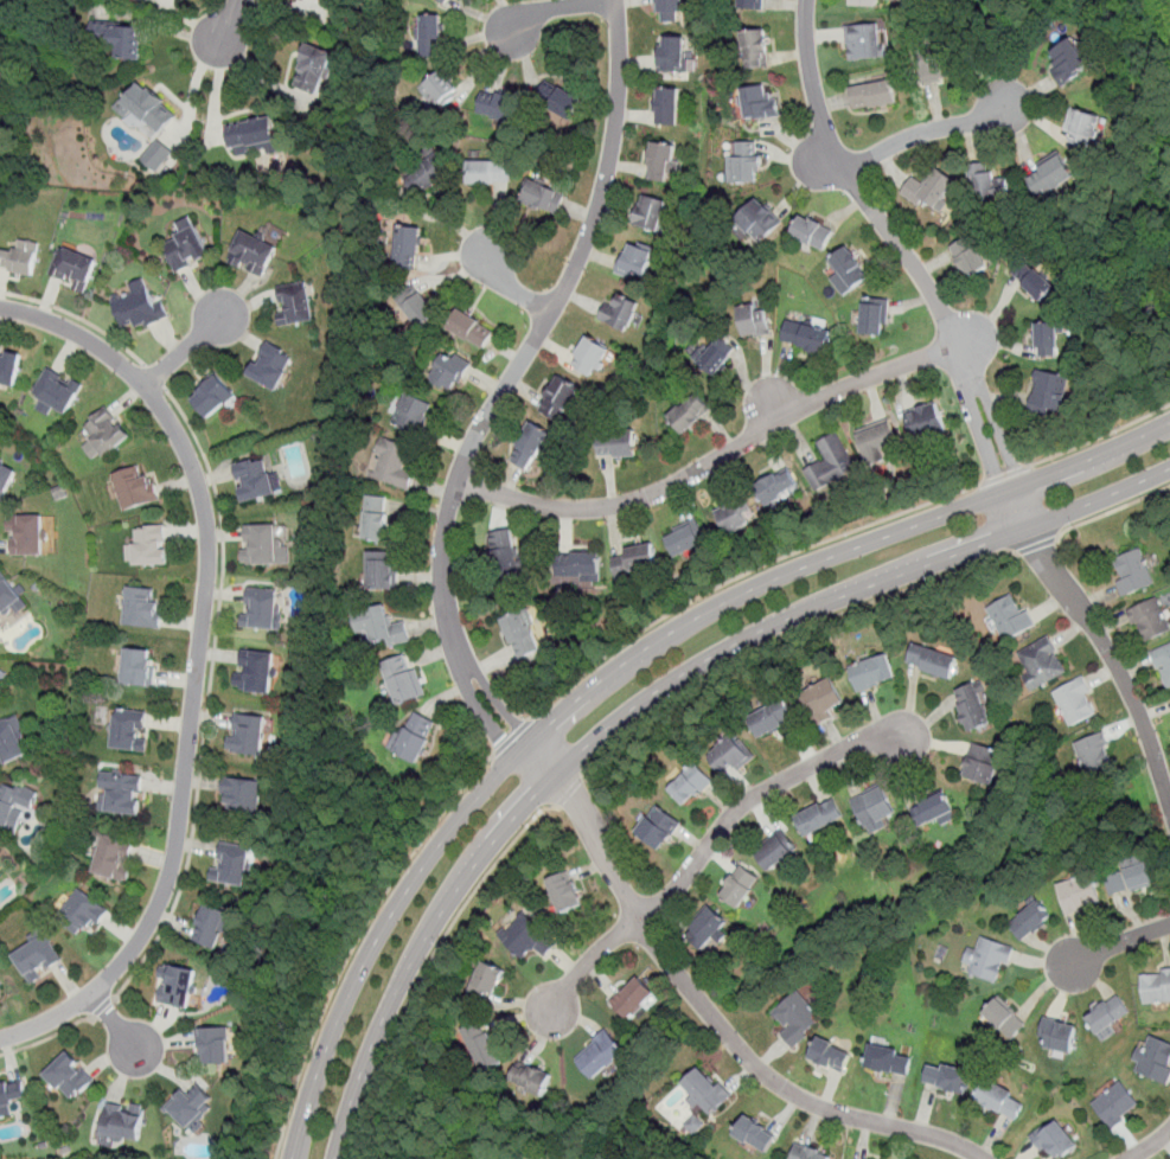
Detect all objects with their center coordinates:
building: (445, 1)
building: (863, 2)
building: (754, 5)
road: (560, 7)
building: (669, 11)
road: (231, 20)
park: (1161, 28)
building: (430, 37)
building: (120, 38)
building: (864, 40)
building: (756, 49)
building: (671, 53)
building: (935, 63)
building: (1069, 63)
building: (314, 68)
building: (441, 88)
building: (874, 96)
building: (564, 103)
building: (756, 103)
building: (666, 105)
building: (499, 107)
building: (148, 108)
building: (1082, 129)
road: (927, 130)
building: (252, 137)
building: (158, 154)
building: (660, 160)
building: (746, 164)
building: (431, 171)
building: (488, 173)
building: (1049, 174)
building: (986, 186)
building: (931, 190)
building: (543, 197)
building: (651, 212)
building: (759, 220)
building: (813, 232)
building: (187, 244)
building: (407, 246)
building: (254, 252)
building: (967, 257)
building: (21, 258)
building: (634, 261)
road: (912, 262)
building: (75, 267)
building: (846, 268)
building: (1031, 280)
road: (510, 289)
building: (295, 303)
building: (140, 305)
building: (417, 307)
building: (620, 310)
road: (76, 316)
building: (874, 318)
building: (754, 320)
building: (471, 328)
building: (806, 337)
building: (1047, 340)
road: (187, 346)
building: (590, 358)
building: (716, 358)
building: (271, 366)
building: (9, 367)
building: (448, 371)
road: (155, 374)
road: (507, 382)
building: (57, 390)
building: (1049, 392)
building: (213, 396)
building: (560, 398)
building: (688, 412)
building: (413, 414)
building: (926, 422)
building: (106, 433)
road: (1099, 436)
building: (877, 441)
building: (616, 444)
building: (530, 447)
road: (714, 460)
building: (395, 463)
building: (831, 463)
road: (1002, 474)
building: (6, 479)
building: (255, 479)
building: (136, 488)
building: (778, 488)
road: (1112, 511)
building: (735, 513)
building: (376, 518)
building: (27, 534)
building: (684, 540)
building: (260, 544)
road: (1036, 544)
building: (148, 546)
building: (507, 552)
building: (633, 562)
building: (583, 565)
building: (1133, 571)
building: (382, 572)
road: (740, 575)
building: (8, 597)
building: (142, 608)
building: (263, 608)
building: (1010, 617)
building: (1149, 617)
building: (381, 628)
building: (520, 636)
road: (786, 636)
building: (1043, 658)
road: (1112, 659)
building: (1163, 661)
road: (198, 662)
building: (932, 662)
building: (138, 667)
building: (256, 671)
road: (624, 671)
building: (871, 673)
building: (399, 681)
road: (648, 697)
road: (207, 698)
building: (821, 699)
building: (1074, 699)
building: (972, 709)
building: (773, 721)
building: (129, 730)
building: (248, 734)
road: (511, 736)
building: (413, 737)
building: (11, 743)
building: (1093, 751)
building: (729, 756)
building: (982, 763)
building: (688, 786)
road: (568, 789)
building: (121, 794)
road: (756, 794)
building: (241, 796)
building: (13, 806)
building: (874, 807)
building: (932, 809)
building: (820, 818)
building: (658, 828)
building: (774, 851)
building: (115, 859)
building: (232, 865)
building: (1130, 878)
building: (739, 888)
building: (567, 891)
building: (1079, 892)
building: (83, 914)
building: (1030, 920)
building: (211, 927)
building: (704, 929)
building: (525, 937)
road: (354, 941)
road: (1120, 943)
building: (37, 956)
building: (987, 961)
road: (427, 962)
road: (584, 966)
building: (486, 984)
building: (177, 985)
building: (1156, 986)
building: (1, 993)
building: (631, 999)
road: (103, 1006)
road: (709, 1011)
building: (1108, 1016)
building: (1004, 1017)
building: (797, 1019)
road: (115, 1023)
road: (46, 1036)
building: (1059, 1036)
building: (215, 1046)
building: (482, 1046)
building: (600, 1054)
building: (831, 1055)
building: (888, 1058)
building: (1155, 1059)
building: (947, 1076)
building: (70, 1077)
building: (532, 1081)
building: (707, 1090)
building: (11, 1094)
building: (1000, 1099)
building: (190, 1103)
building: (1117, 1104)
building: (124, 1123)
building: (755, 1134)
building: (1055, 1139)
road: (1149, 1145)
building: (808, 1153)

